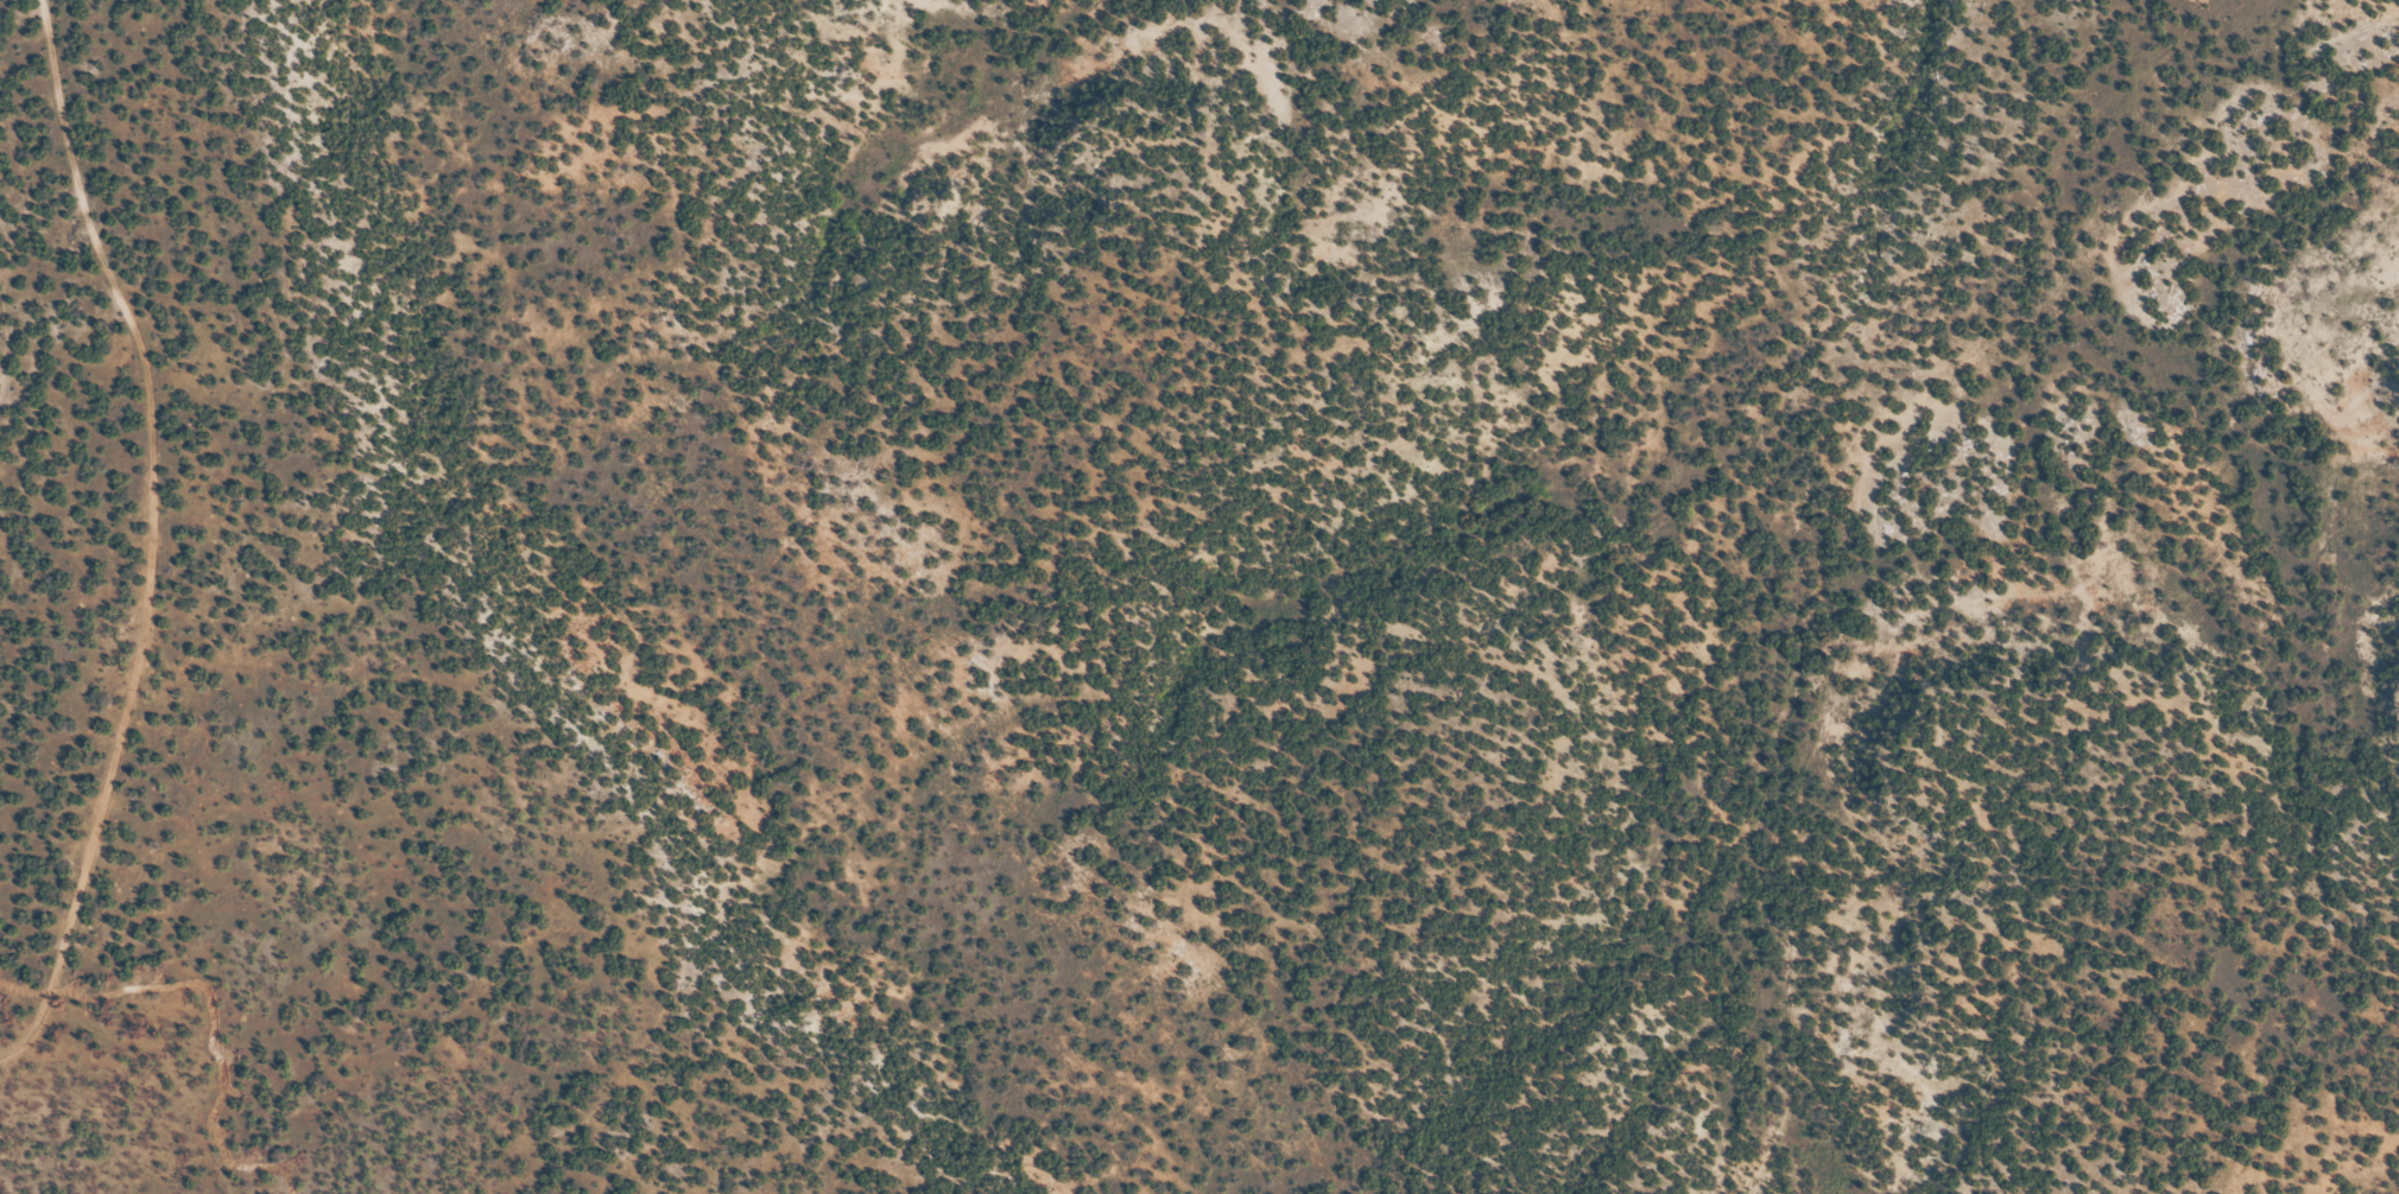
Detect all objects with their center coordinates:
road: (144, 512)

